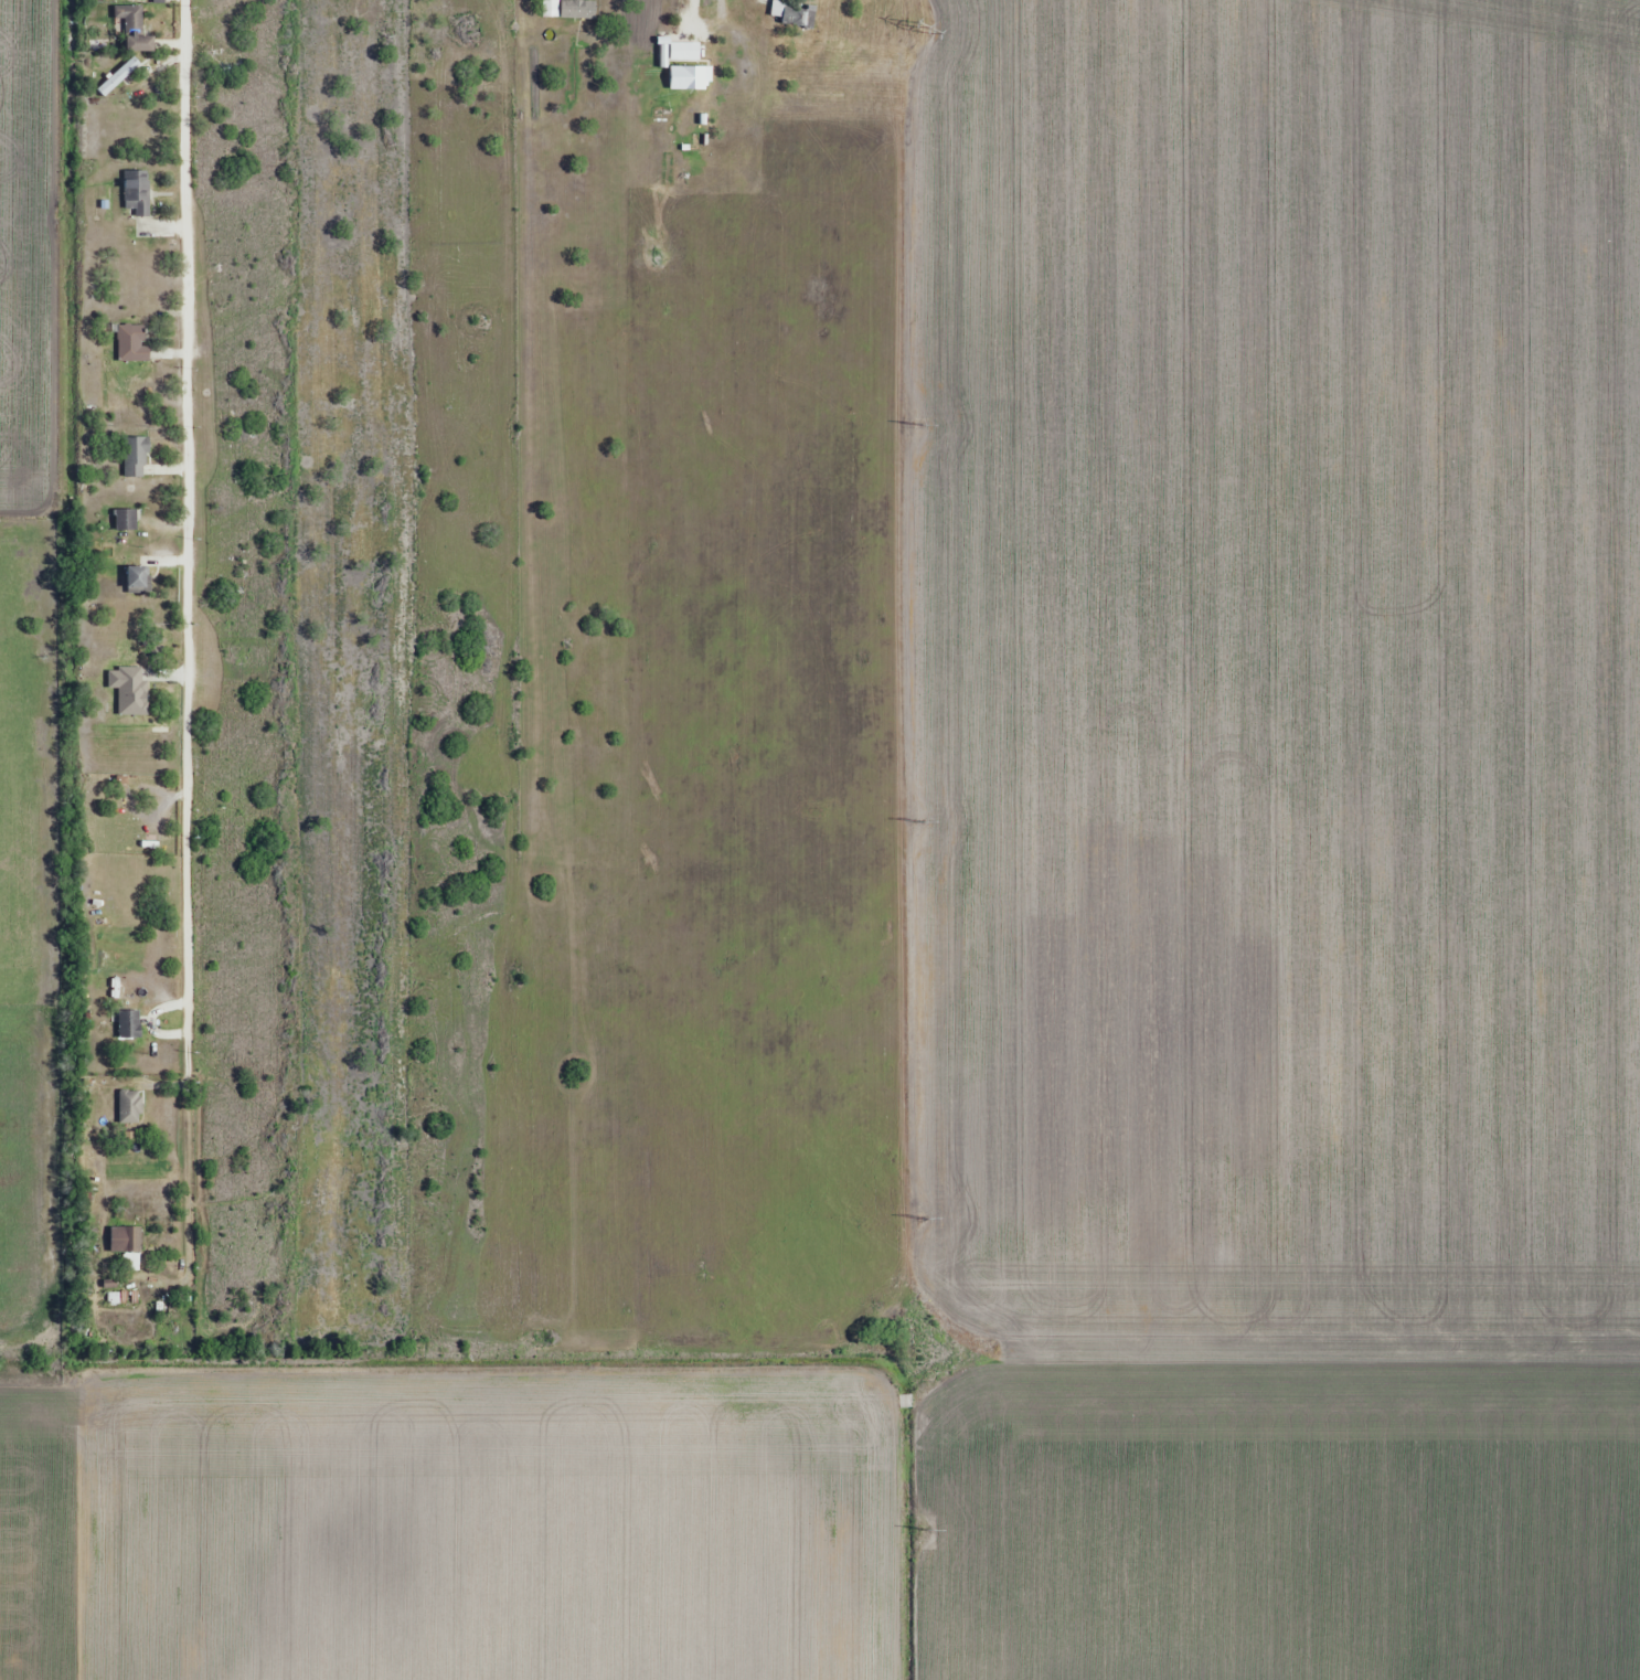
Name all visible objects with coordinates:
building: (794, 13)
road: (695, 15)
building: (131, 19)
power tower: (918, 26)
building: (119, 76)
building: (689, 77)
building: (138, 191)
building: (132, 344)
power tower: (916, 424)
building: (136, 457)
building: (126, 520)
building: (137, 580)
road: (188, 635)
building: (130, 690)
power tower: (917, 821)
building: (129, 1024)
building: (92, 1163)
power tower: (922, 1219)
building: (126, 1241)
power tower: (925, 1529)

